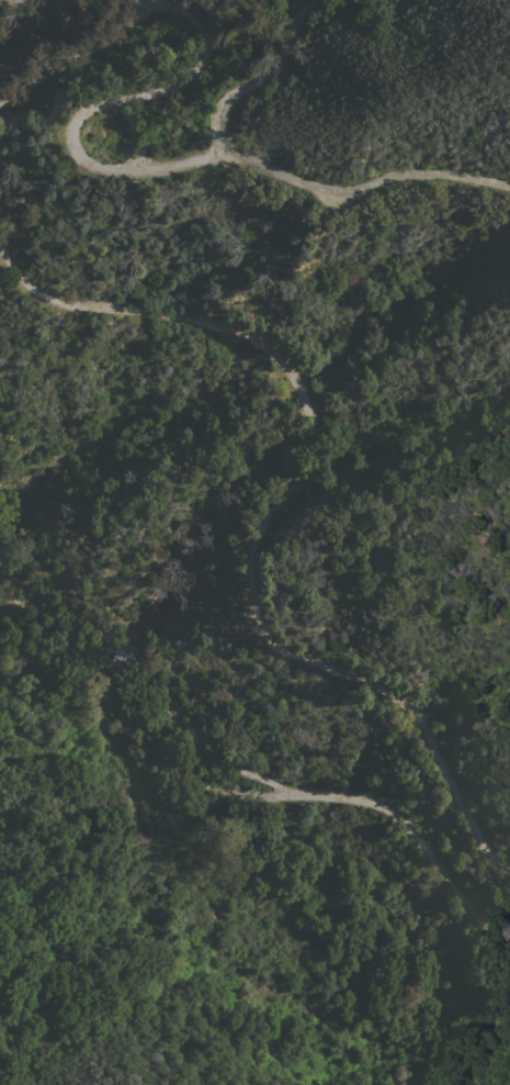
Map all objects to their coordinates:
road: (79, 53)
road: (268, 74)
road: (99, 102)
road: (363, 189)
road: (280, 508)
building: (124, 655)
road: (429, 714)
road: (196, 743)
road: (378, 804)
road: (261, 825)

